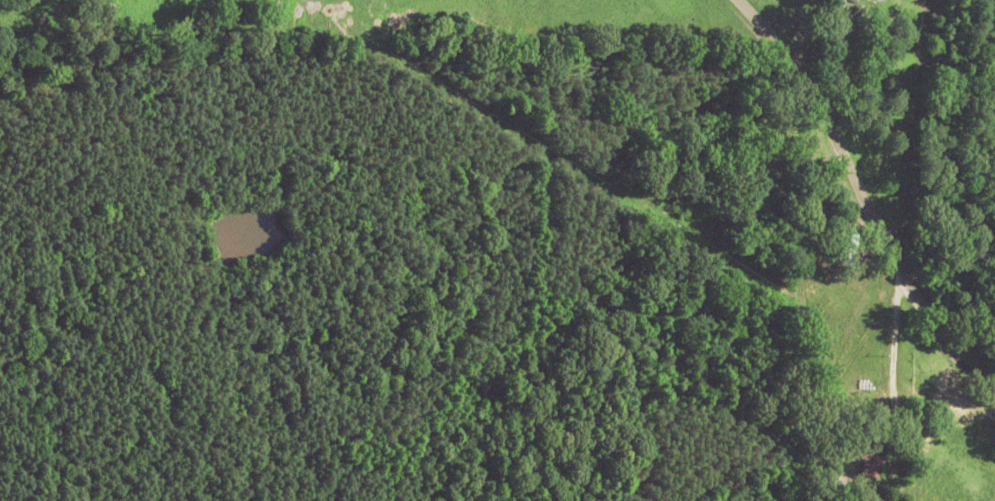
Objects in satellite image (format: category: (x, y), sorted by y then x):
building: (774, 140)
road: (842, 194)

